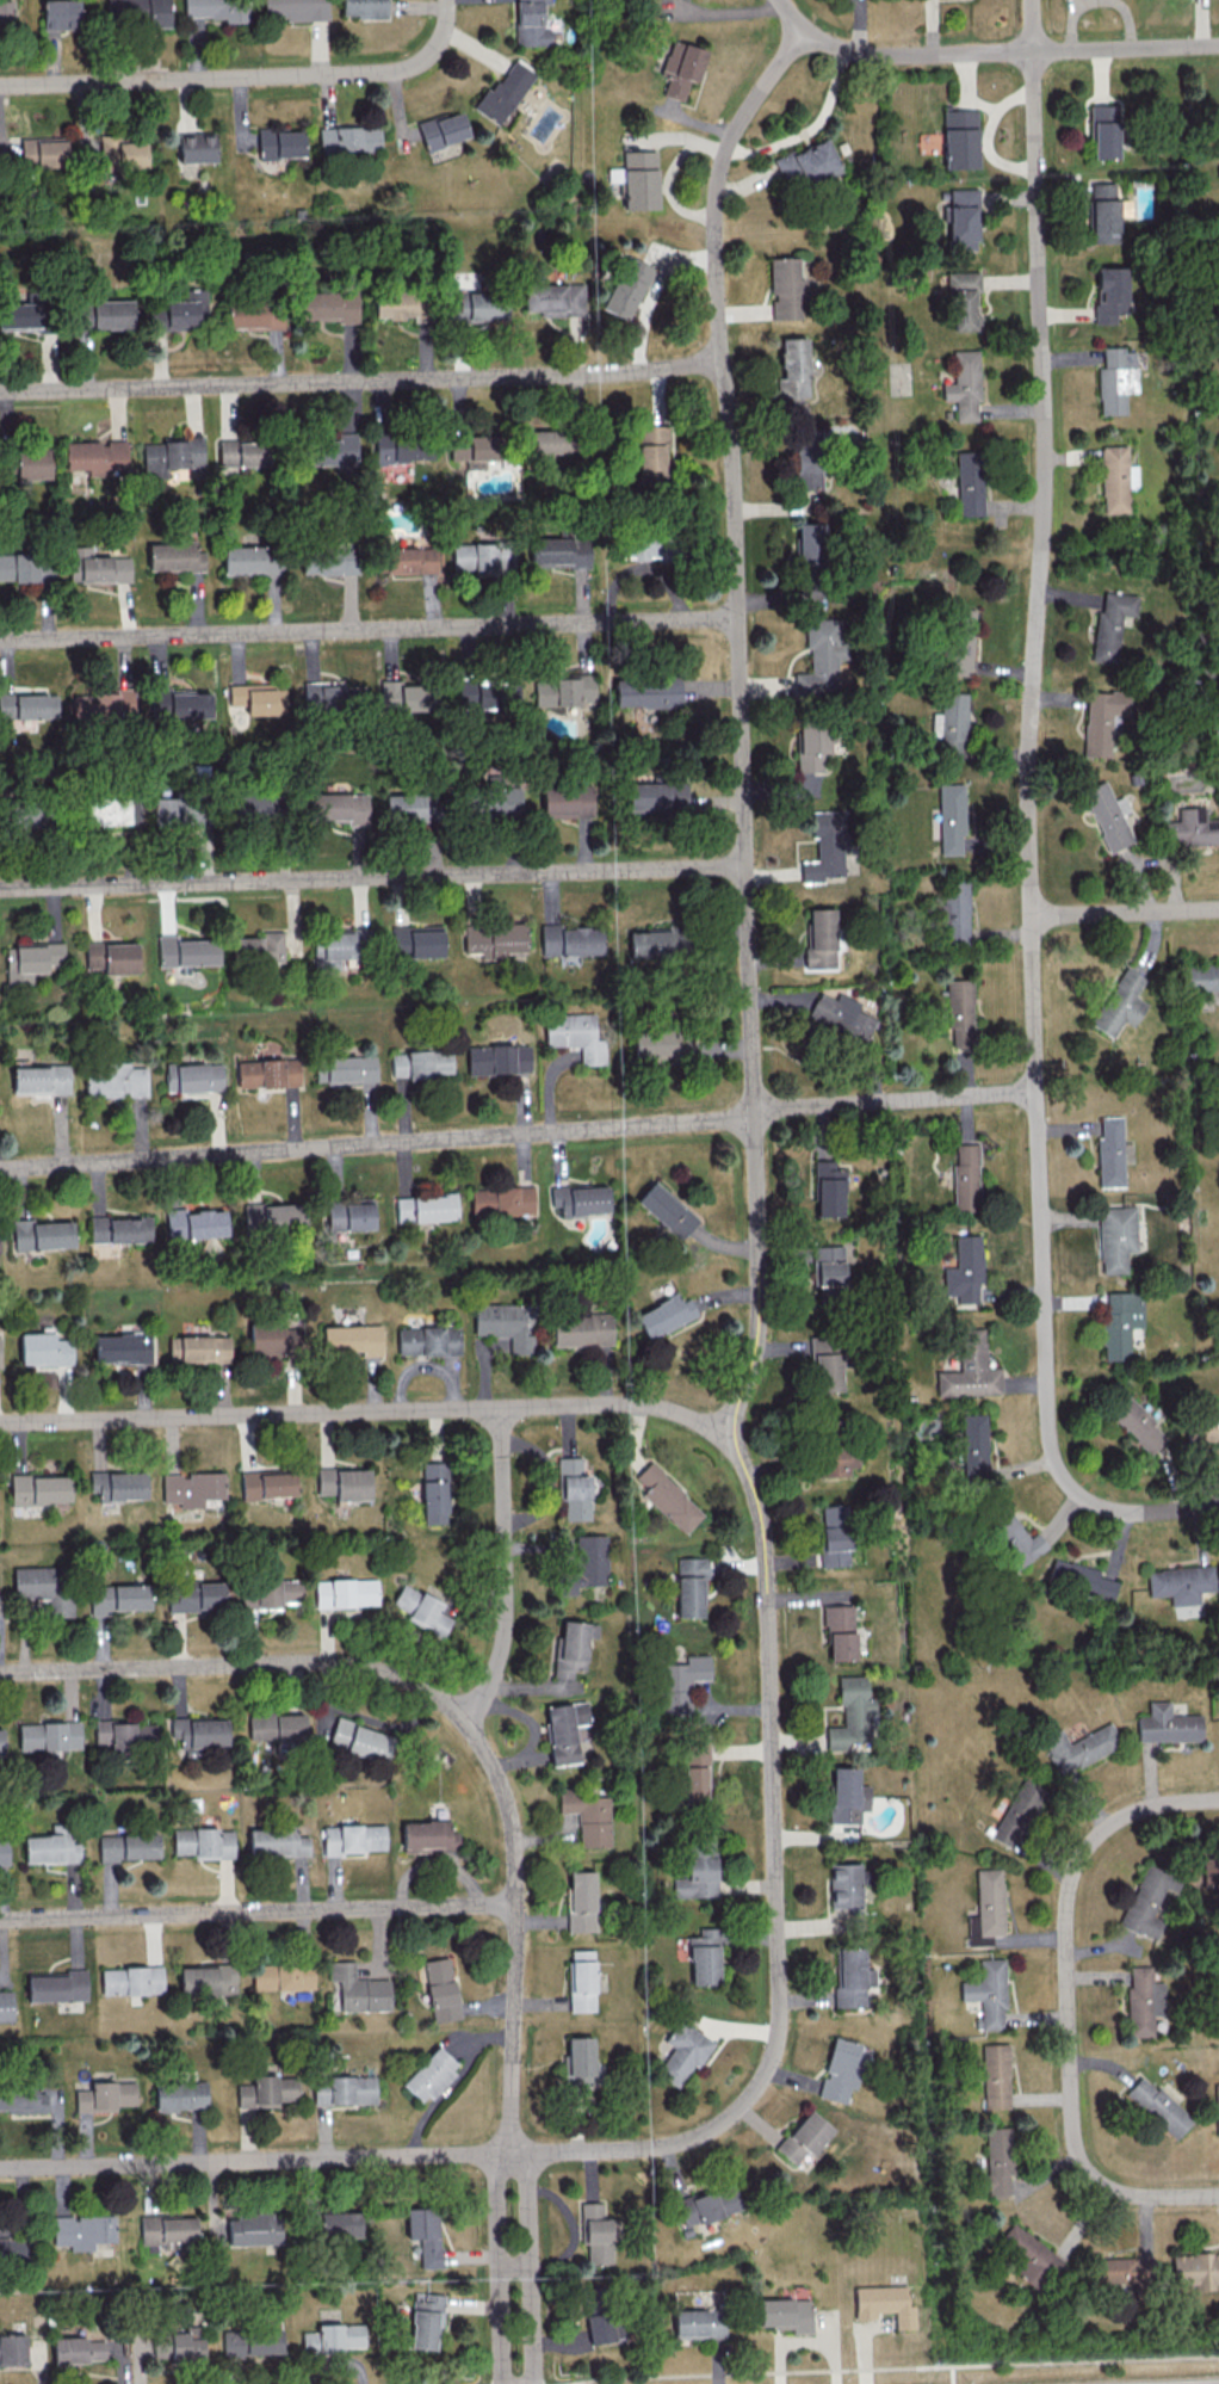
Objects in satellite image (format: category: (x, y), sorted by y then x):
building: (363, 7)
building: (216, 10)
building: (293, 10)
building: (6, 11)
building: (138, 12)
building: (60, 14)
road: (790, 17)
building: (530, 24)
road: (1010, 54)
building: (680, 68)
road: (246, 76)
building: (503, 91)
road: (809, 128)
building: (441, 129)
building: (1103, 131)
building: (348, 138)
building: (958, 138)
building: (279, 143)
building: (196, 147)
building: (42, 152)
building: (120, 153)
building: (809, 162)
building: (1104, 212)
building: (961, 218)
building: (625, 286)
building: (785, 289)
building: (1108, 294)
building: (553, 298)
building: (961, 299)
building: (328, 305)
building: (398, 305)
building: (478, 307)
building: (181, 310)
building: (21, 314)
building: (104, 314)
building: (254, 314)
building: (792, 369)
building: (1115, 379)
road: (361, 382)
building: (963, 384)
building: (542, 441)
building: (402, 447)
building: (475, 449)
building: (332, 450)
building: (242, 452)
building: (651, 452)
building: (95, 456)
building: (171, 456)
building: (806, 461)
building: (32, 463)
building: (1115, 478)
building: (970, 482)
building: (809, 542)
building: (637, 545)
building: (558, 551)
building: (174, 556)
building: (483, 557)
building: (249, 558)
building: (410, 558)
building: (321, 560)
building: (99, 566)
building: (25, 567)
building: (1110, 624)
road: (367, 629)
building: (959, 642)
building: (821, 654)
building: (564, 690)
building: (646, 692)
building: (330, 693)
building: (408, 696)
building: (485, 696)
building: (259, 698)
building: (178, 703)
building: (103, 704)
building: (29, 705)
building: (1101, 721)
road: (741, 722)
building: (951, 724)
building: (812, 748)
building: (657, 796)
building: (567, 801)
building: (250, 802)
building: (499, 803)
building: (406, 804)
building: (339, 807)
building: (104, 810)
building: (167, 810)
building: (1107, 815)
building: (951, 819)
road: (1028, 823)
building: (1192, 827)
building: (824, 847)
road: (373, 876)
building: (953, 913)
road: (1125, 913)
building: (495, 939)
building: (569, 939)
building: (819, 939)
building: (417, 940)
building: (649, 943)
building: (259, 947)
building: (342, 949)
building: (186, 951)
building: (111, 957)
building: (31, 959)
building: (1201, 977)
building: (1120, 1002)
building: (959, 1014)
building: (841, 1015)
building: (575, 1034)
building: (652, 1043)
building: (497, 1058)
building: (421, 1062)
building: (351, 1069)
building: (266, 1073)
building: (197, 1077)
building: (39, 1079)
building: (113, 1080)
road: (518, 1134)
building: (1109, 1150)
building: (965, 1176)
building: (828, 1190)
building: (580, 1199)
building: (501, 1200)
building: (426, 1206)
building: (666, 1210)
building: (349, 1215)
building: (272, 1216)
building: (193, 1223)
building: (119, 1229)
building: (41, 1234)
building: (1115, 1237)
building: (827, 1265)
building: (965, 1270)
building: (664, 1315)
building: (1119, 1322)
building: (505, 1323)
building: (581, 1329)
building: (273, 1339)
building: (353, 1339)
building: (429, 1340)
building: (123, 1347)
building: (44, 1348)
building: (173, 1348)
building: (204, 1348)
building: (824, 1360)
building: (970, 1369)
road: (364, 1412)
building: (1138, 1423)
building: (1202, 1428)
building: (973, 1444)
building: (837, 1459)
building: (345, 1482)
building: (268, 1483)
building: (119, 1486)
building: (39, 1488)
building: (192, 1488)
building: (574, 1488)
building: (435, 1491)
building: (668, 1497)
building: (834, 1533)
building: (1013, 1536)
building: (587, 1564)
road: (505, 1569)
building: (1079, 1579)
building: (1181, 1583)
building: (691, 1586)
building: (45, 1587)
building: (347, 1592)
building: (272, 1593)
building: (196, 1596)
building: (119, 1598)
building: (421, 1608)
building: (840, 1631)
building: (574, 1647)
road: (239, 1662)
building: (681, 1685)
building: (850, 1713)
building: (1168, 1724)
building: (277, 1727)
building: (564, 1730)
building: (200, 1731)
building: (126, 1734)
building: (50, 1735)
building: (1, 1740)
building: (361, 1740)
building: (1079, 1747)
building: (695, 1773)
building: (847, 1796)
building: (1019, 1812)
building: (589, 1815)
building: (429, 1836)
building: (354, 1838)
building: (278, 1841)
building: (205, 1842)
building: (129, 1846)
building: (51, 1848)
building: (4, 1851)
building: (699, 1871)
building: (1211, 1871)
building: (844, 1884)
building: (581, 1901)
building: (988, 1908)
road: (258, 1911)
road: (515, 1928)
building: (705, 1957)
building: (283, 1976)
building: (850, 1978)
building: (132, 1980)
building: (208, 1980)
building: (582, 1980)
building: (57, 1985)
building: (360, 1989)
building: (441, 1989)
building: (989, 1991)
building: (1144, 2001)
road: (1070, 2005)
building: (6, 2006)
building: (682, 2052)
building: (580, 2061)
building: (841, 2069)
building: (431, 2074)
building: (996, 2075)
building: (268, 2090)
building: (347, 2090)
building: (105, 2095)
building: (180, 2095)
building: (23, 2099)
building: (1158, 2106)
building: (1217, 2106)
road: (716, 2123)
building: (804, 2137)
building: (998, 2161)
building: (710, 2204)
building: (340, 2224)
building: (254, 2229)
building: (82, 2230)
building: (168, 2230)
building: (595, 2231)
building: (425, 2232)
building: (6, 2249)
building: (1028, 2255)
road: (499, 2266)
road: (526, 2266)
building: (1121, 2269)
building: (1195, 2269)
building: (592, 2292)
building: (885, 2304)
building: (786, 2314)
building: (426, 2320)
building: (700, 2323)
building: (605, 2328)
building: (334, 2336)
building: (252, 2341)
building: (187, 2343)
building: (162, 2346)
building: (12, 2348)
building: (86, 2348)
road: (885, 2366)
road: (952, 2374)

